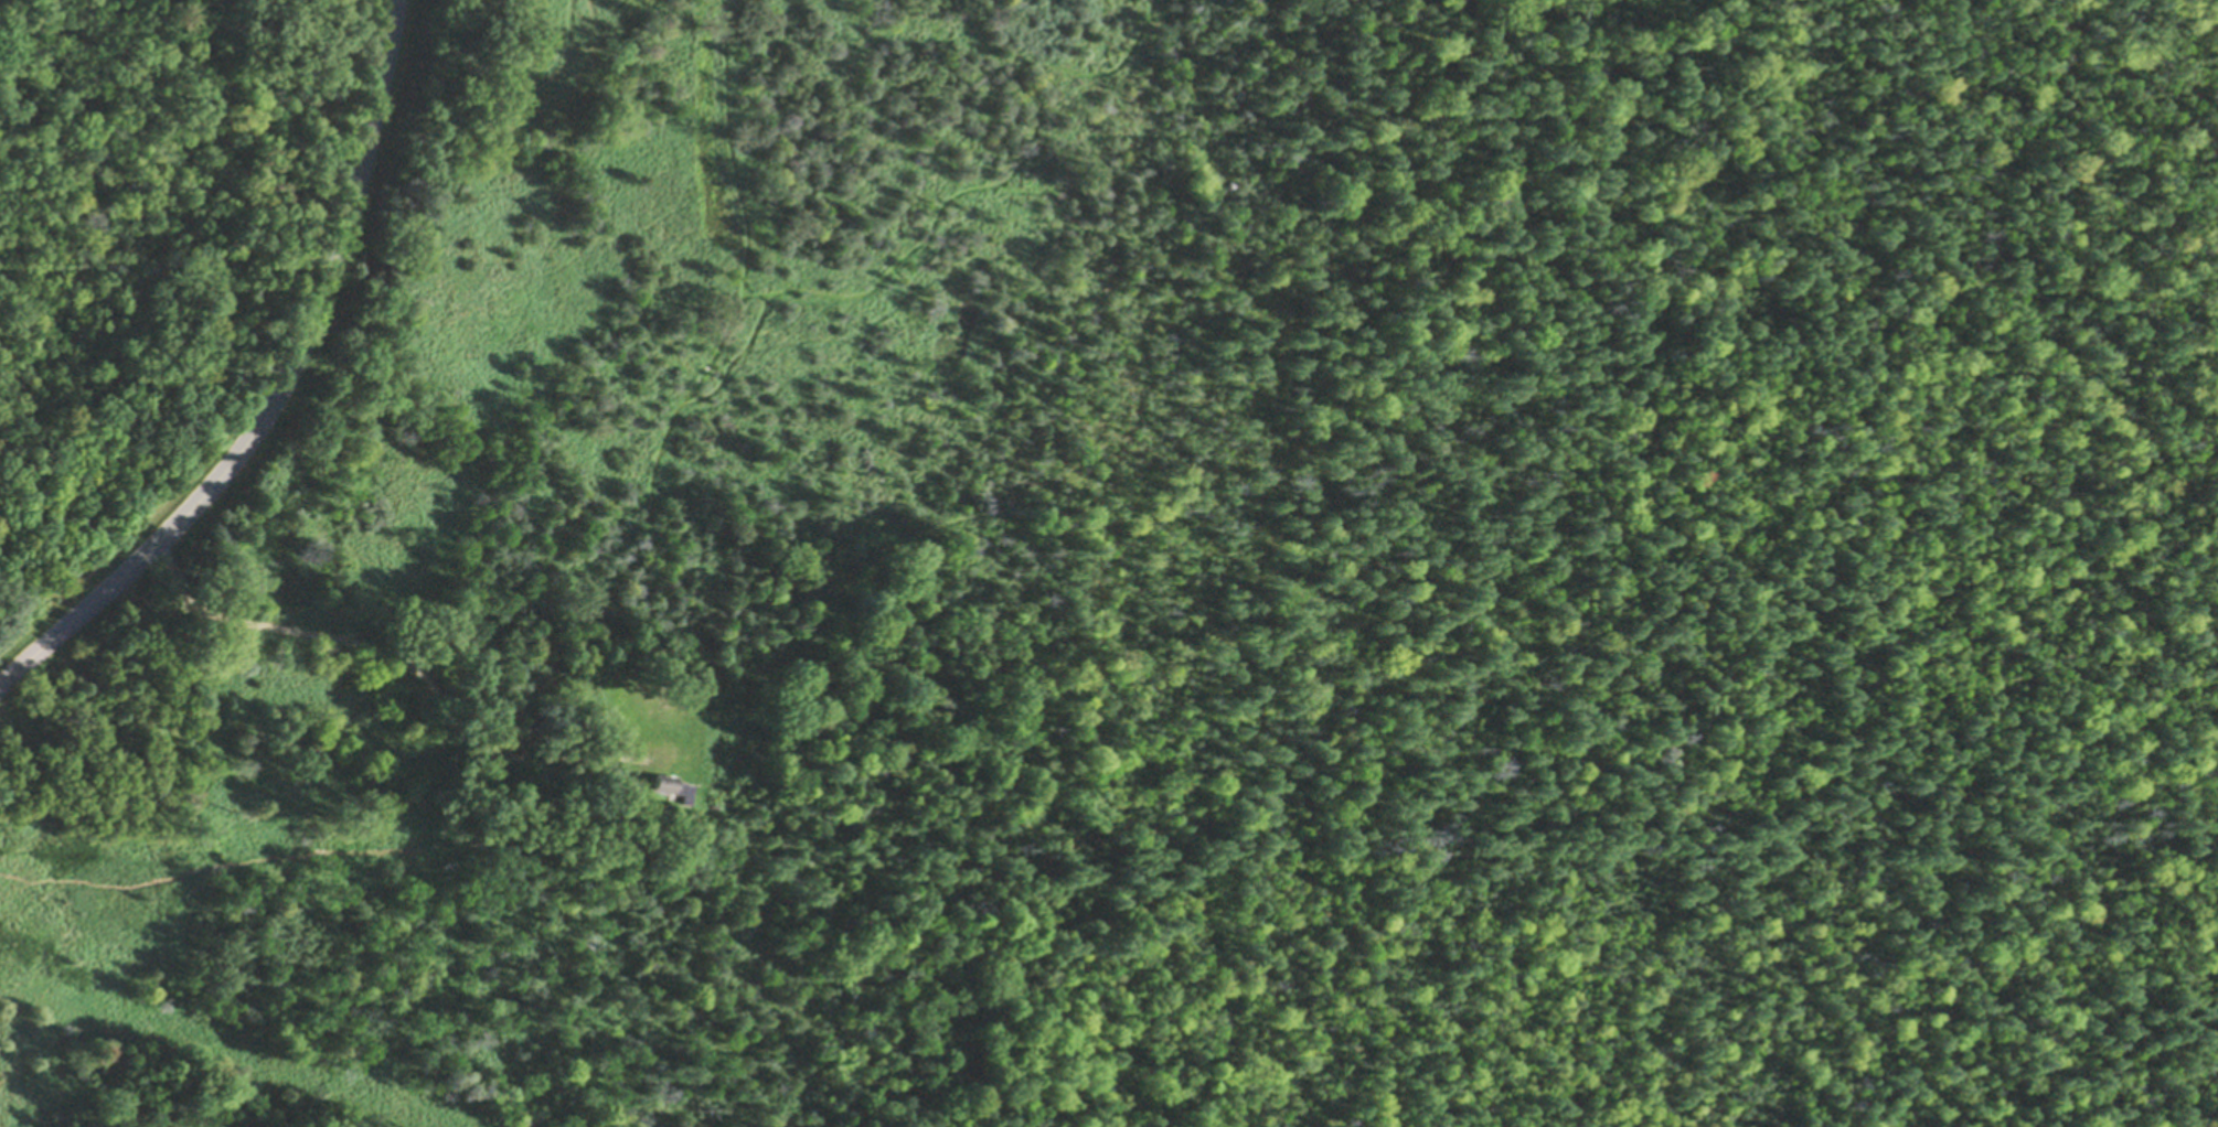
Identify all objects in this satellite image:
road: (279, 389)
building: (659, 783)

